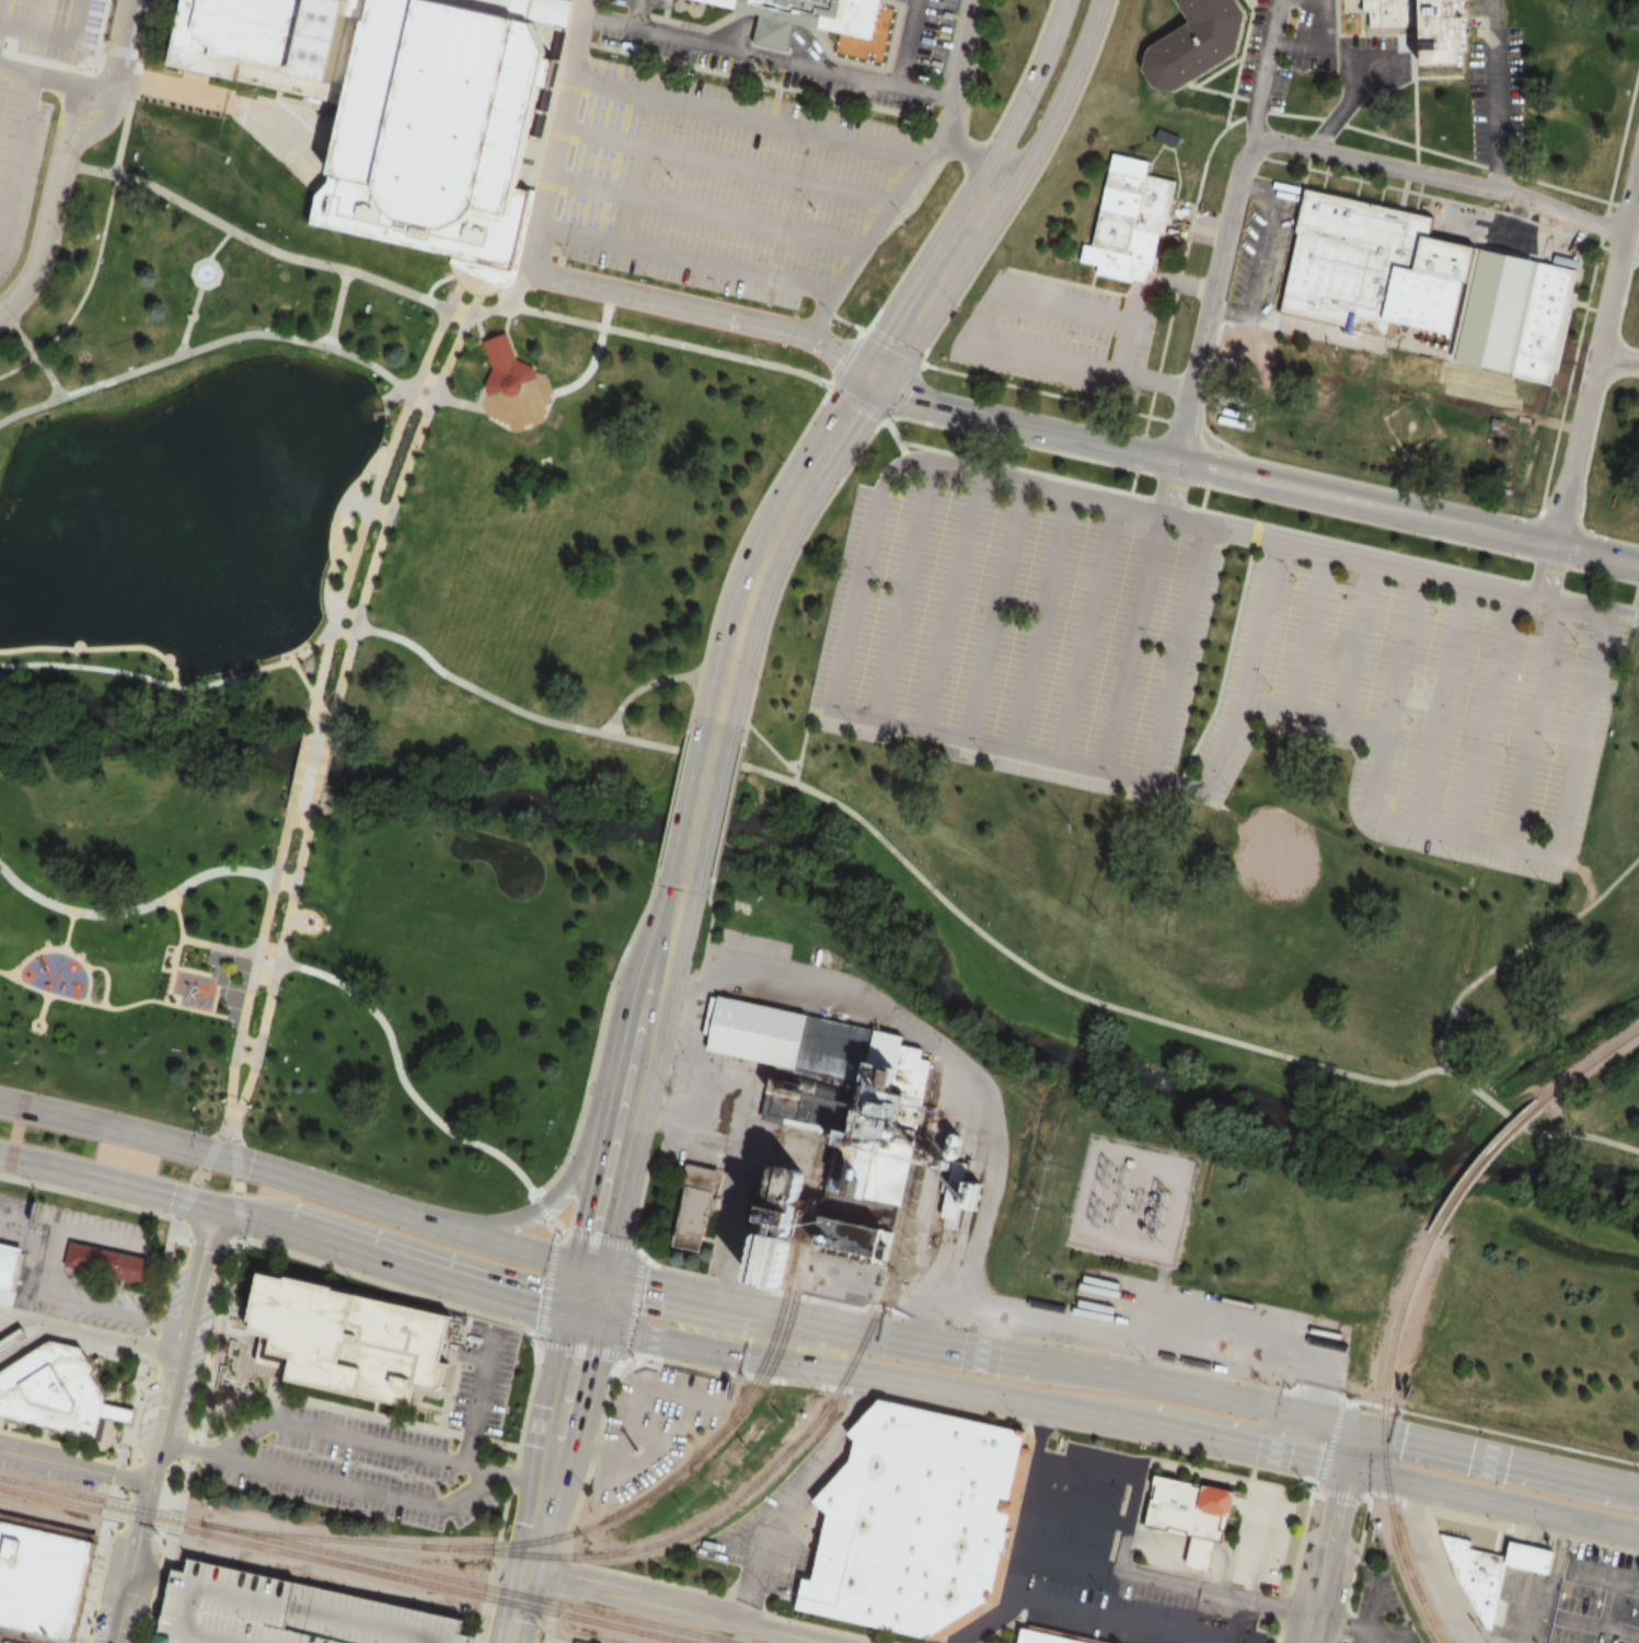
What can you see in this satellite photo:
road: (0, 3)
road: (639, 13)
building: (812, 19)
building: (1428, 26)
road: (905, 43)
building: (1197, 43)
road: (771, 57)
street lamp: (101, 73)
road: (961, 74)
road: (116, 83)
road: (1029, 86)
road: (93, 95)
road: (1062, 96)
parking lot: (26, 100)
building: (388, 107)
road: (25, 115)
road: (752, 119)
road: (557, 135)
building: (1168, 138)
road: (59, 161)
road: (729, 165)
road: (1442, 176)
road: (961, 178)
parking lot: (711, 183)
road: (707, 211)
road: (891, 213)
building: (1126, 219)
road: (217, 243)
road: (298, 258)
road: (683, 262)
building: (1371, 267)
fountain: (204, 274)
road: (1159, 279)
road: (204, 284)
road: (83, 292)
road: (960, 292)
road: (1211, 298)
road: (336, 306)
road: (706, 312)
road: (974, 323)
building: (1545, 326)
parking lot: (1055, 333)
road: (1123, 345)
road: (331, 347)
road: (894, 347)
road: (702, 348)
road: (428, 349)
road: (595, 350)
road: (1595, 350)
road: (33, 351)
road: (448, 357)
road: (1617, 359)
building: (508, 369)
road: (1154, 379)
traffic signals: (874, 380)
road: (493, 405)
road: (534, 433)
road: (833, 437)
road: (1556, 437)
road: (389, 449)
road: (1210, 467)
road: (1032, 472)
road: (1254, 478)
road: (1167, 486)
road: (1225, 489)
road: (1203, 497)
road: (588, 498)
road: (747, 525)
road: (1236, 530)
road: (1609, 539)
road: (1573, 547)
road: (349, 568)
road: (1545, 571)
road: (1603, 575)
road: (905, 588)
road: (949, 599)
road: (995, 609)
road: (1041, 620)
road: (1086, 628)
road: (339, 630)
road: (1305, 630)
road: (1132, 639)
road: (1353, 641)
road: (312, 646)
road: (95, 647)
road: (1176, 649)
road: (322, 662)
park: (344, 663)
parking lot: (1416, 667)
road: (341, 675)
road: (169, 681)
road: (640, 686)
road: (475, 689)
road: (1244, 689)
road: (694, 701)
road: (319, 702)
road: (1439, 704)
road: (1485, 715)
road: (1532, 726)
road: (746, 727)
road: (951, 733)
road: (771, 747)
road: (800, 747)
road: (310, 765)
park: (1199, 798)
road: (672, 799)
road: (699, 802)
road: (726, 811)
road: (1458, 836)
road: (282, 841)
road: (212, 870)
road: (285, 881)
river: (854, 881)
flagpole: (326, 925)
road: (68, 928)
road: (62, 948)
road: (1517, 948)
road: (1005, 952)
road: (775, 965)
road: (171, 968)
road: (276, 969)
road: (106, 977)
road: (119, 1006)
road: (42, 1008)
road: (372, 1009)
road: (597, 1039)
road: (245, 1048)
railway: (1591, 1064)
road: (676, 1073)
road: (637, 1075)
road: (230, 1081)
road: (595, 1090)
building: (823, 1125)
road: (1532, 1131)
power tower: (1188, 1143)
railway: (1484, 1161)
traffic signals: (251, 1166)
road: (204, 1169)
road: (238, 1179)
road: (298, 1179)
road: (106, 1182)
road: (106, 1201)
power substation: (1130, 1201)
building: (695, 1205)
traffic signals: (212, 1210)
road: (574, 1237)
traffic signals: (601, 1238)
road: (208, 1245)
building: (113, 1262)
building: (11, 1264)
road: (397, 1265)
traffic signals: (642, 1280)
road: (196, 1282)
road: (549, 1287)
park: (1549, 1289)
road: (589, 1294)
road: (730, 1300)
road: (633, 1304)
traffic signals: (536, 1309)
building: (234, 1311)
road: (483, 1312)
road: (9, 1324)
road: (90, 1333)
building: (347, 1338)
building: (15, 1341)
railway: (769, 1344)
road: (30, 1345)
road: (582, 1346)
railway: (778, 1347)
traffic signals: (576, 1353)
road: (992, 1354)
road: (1130, 1358)
road: (815, 1368)
building: (59, 1391)
road: (478, 1396)
road: (1236, 1400)
road: (1308, 1400)
road: (163, 1419)
road: (197, 1422)
road: (1055, 1424)
road: (1044, 1431)
road: (1170, 1431)
parking lot: (647, 1433)
traffic signals: (1401, 1437)
railway: (1382, 1439)
road: (1329, 1440)
road: (68, 1443)
road: (219, 1445)
road: (389, 1445)
parking lot: (382, 1449)
road: (1497, 1458)
road: (149, 1462)
traffic signals: (1315, 1462)
road: (74, 1468)
road: (1135, 1476)
road: (522, 1478)
road: (546, 1482)
road: (1317, 1485)
road: (349, 1486)
road: (578, 1494)
road: (1344, 1494)
road: (1466, 1495)
traffic signals: (1339, 1497)
road: (1429, 1504)
railway: (717, 1514)
building: (1188, 1514)
road: (1077, 1516)
building: (912, 1523)
railway: (592, 1525)
road: (1330, 1534)
road: (1188, 1552)
building: (1478, 1558)
building: (1534, 1558)
railway: (367, 1561)
road: (130, 1564)
railway: (343, 1565)
parking lot: (1117, 1565)
road: (1019, 1566)
building: (44, 1578)
road: (1156, 1581)
road: (742, 1601)
road: (1281, 1607)
road: (678, 1608)
building: (291, 1610)
parking lot: (291, 1610)
road: (1115, 1621)
road: (23, 1638)
building: (1038, 1638)
building: (7, 1641)
building: (578, 1642)

